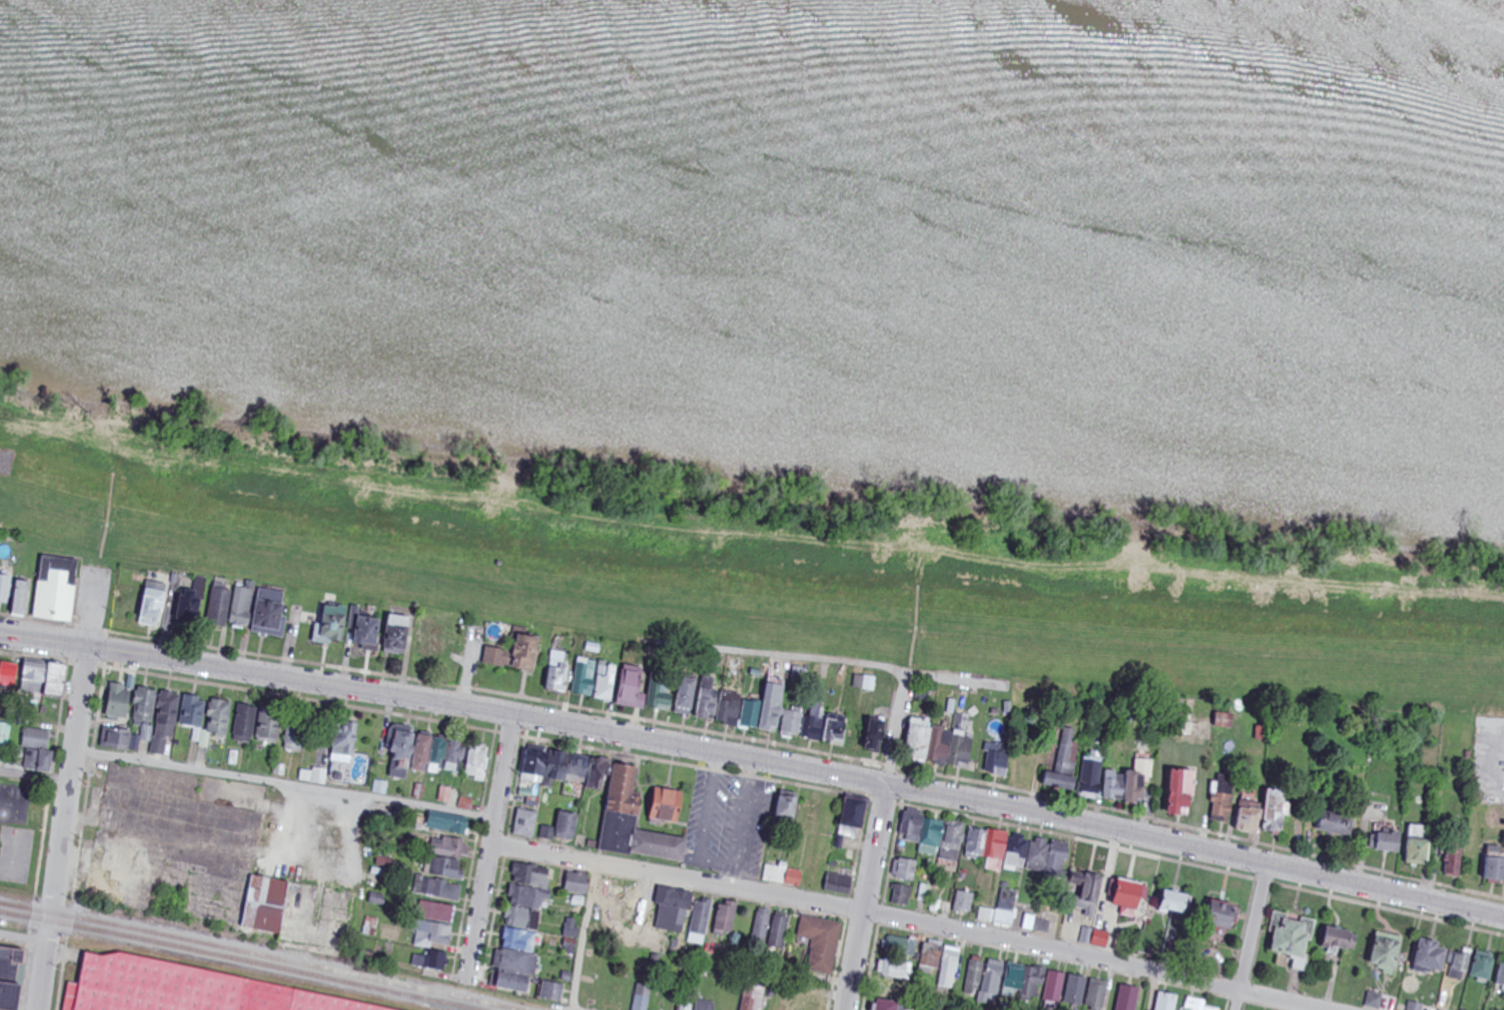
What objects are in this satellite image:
river: (1048, 65)
road: (831, 663)
road: (755, 759)
road: (34, 776)
road: (283, 785)
road: (66, 792)
park: (28, 833)
road: (875, 841)
road: (490, 845)
park: (16, 854)
road: (676, 878)
road: (23, 936)
road: (585, 936)
road: (1251, 938)
railway: (259, 956)
road: (1096, 958)
railway: (237, 960)
building: (184, 989)

